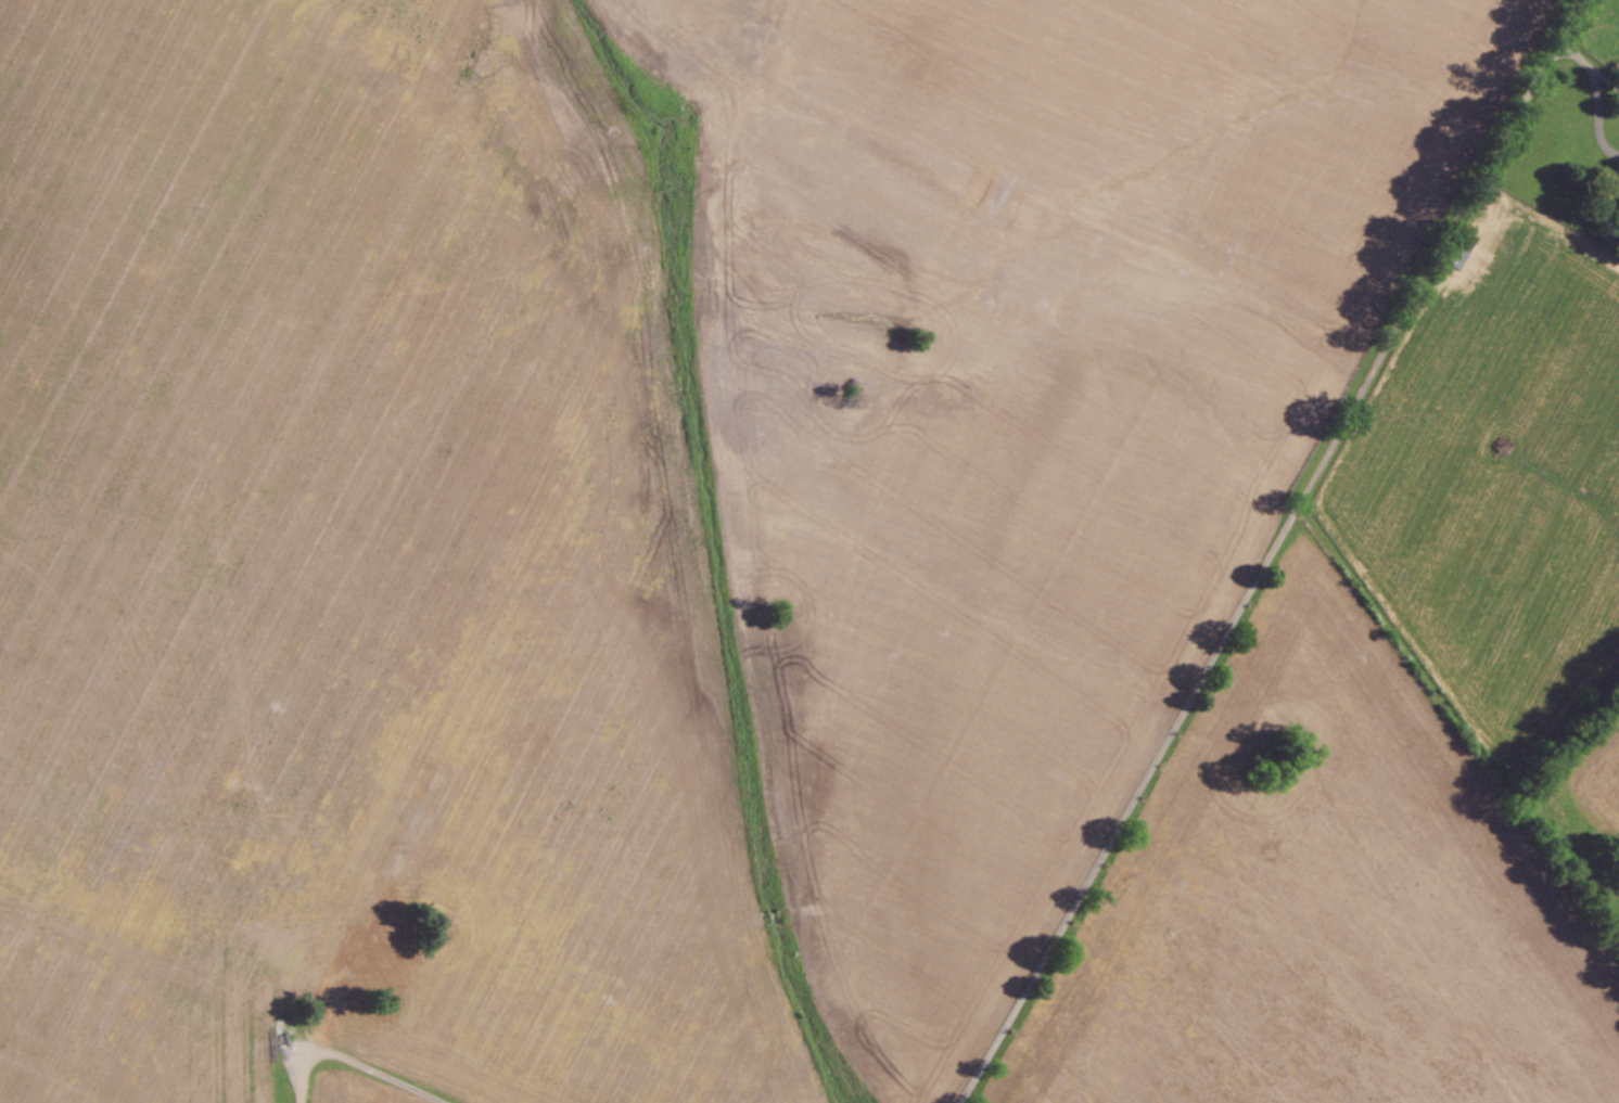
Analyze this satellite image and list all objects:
road: (1592, 67)
road: (1283, 552)
road: (349, 1070)
road: (413, 1102)

